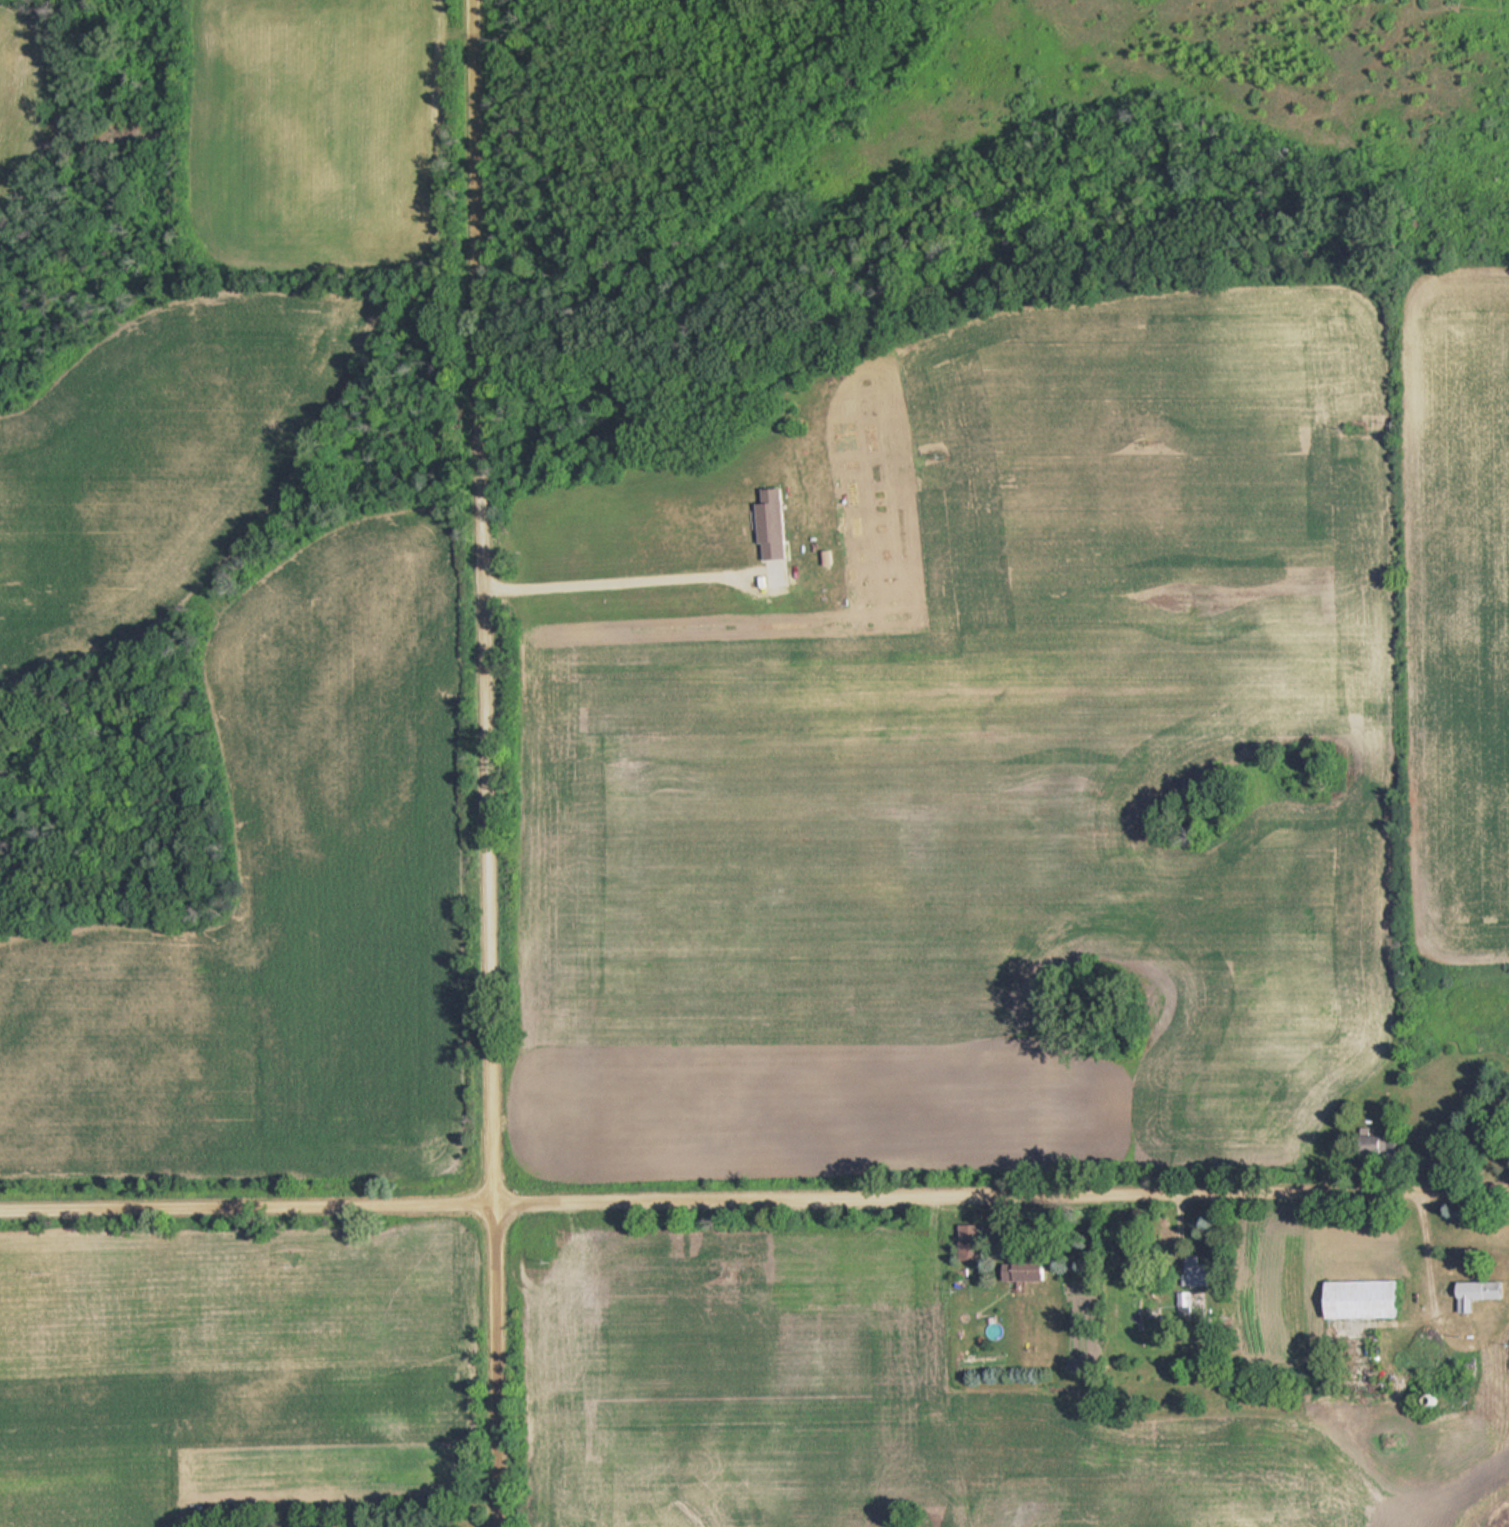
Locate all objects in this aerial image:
building: (774, 524)
road: (488, 763)
road: (754, 1204)
building: (973, 1243)
building: (1028, 1271)
building: (1201, 1272)
building: (1486, 1291)
building: (1366, 1300)

